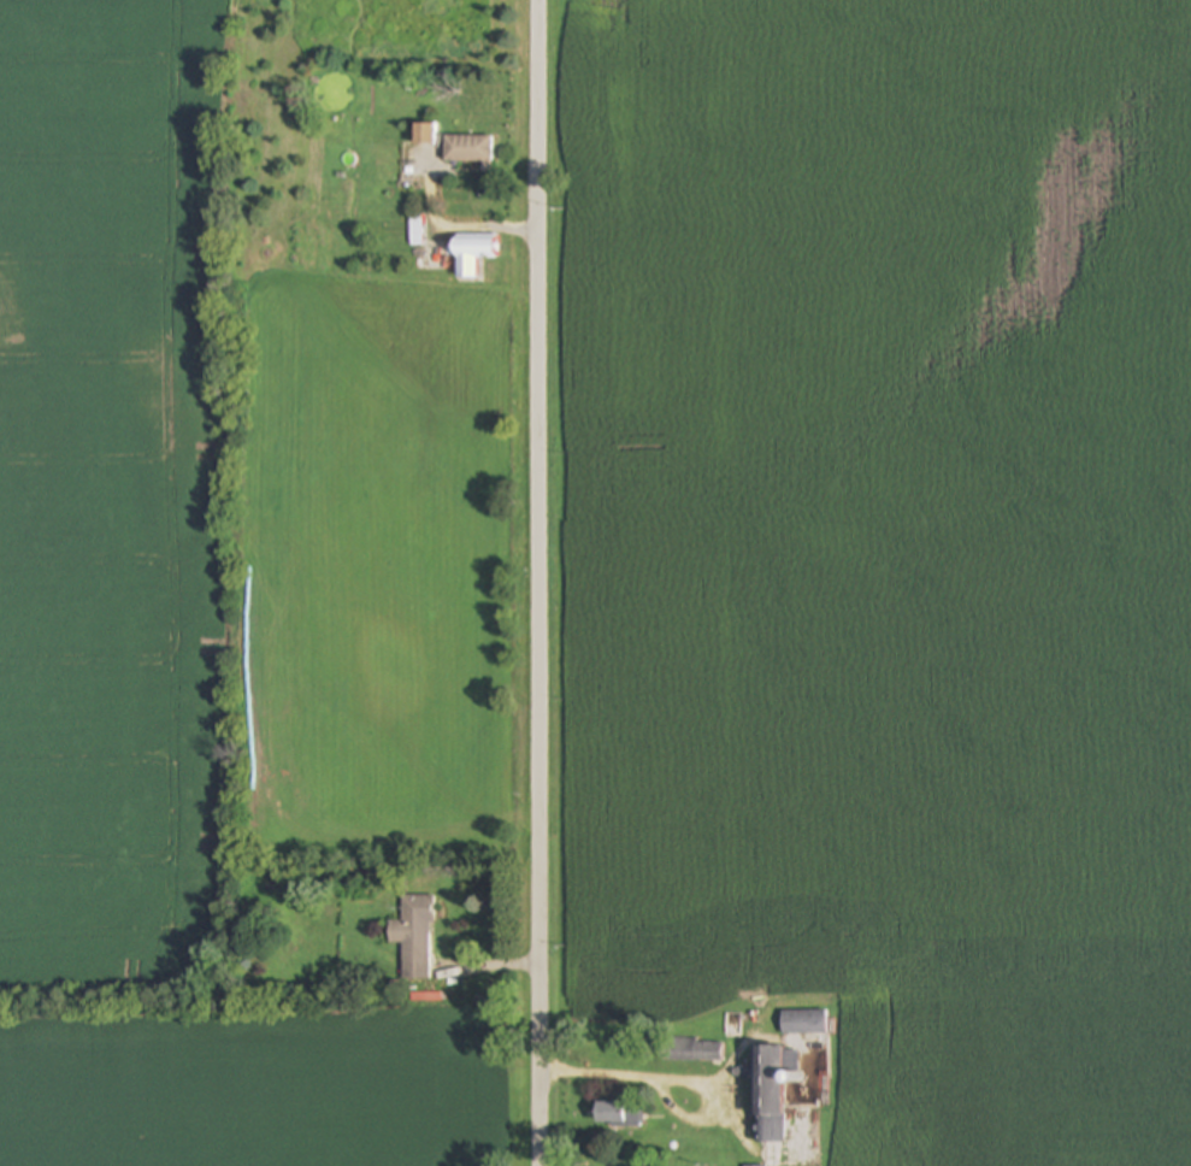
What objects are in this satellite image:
building: (424, 134)
building: (468, 148)
building: (471, 254)
road: (521, 582)
building: (414, 937)
building: (803, 1023)
building: (692, 1049)
road: (612, 1072)
building: (773, 1090)
building: (618, 1113)
building: (754, 1165)

